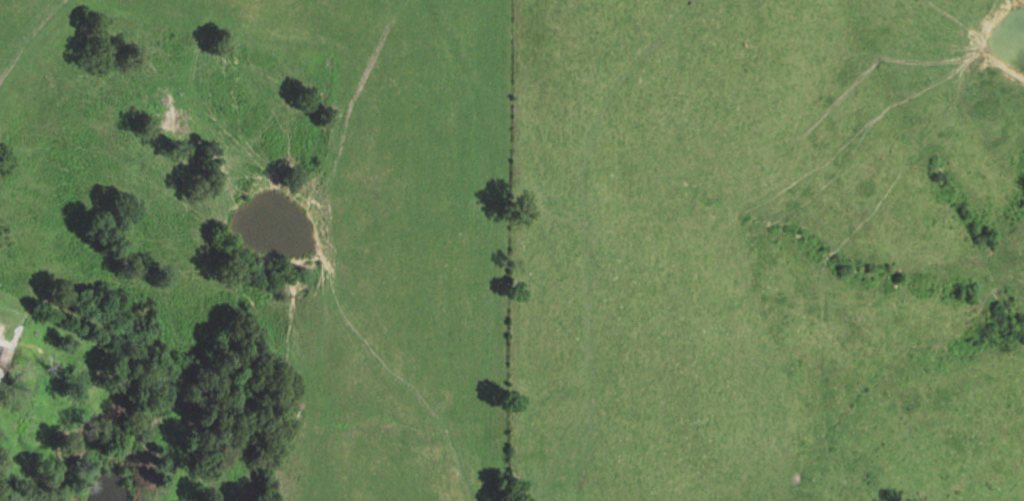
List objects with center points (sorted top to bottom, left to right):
road: (503, 270)
road: (898, 455)

